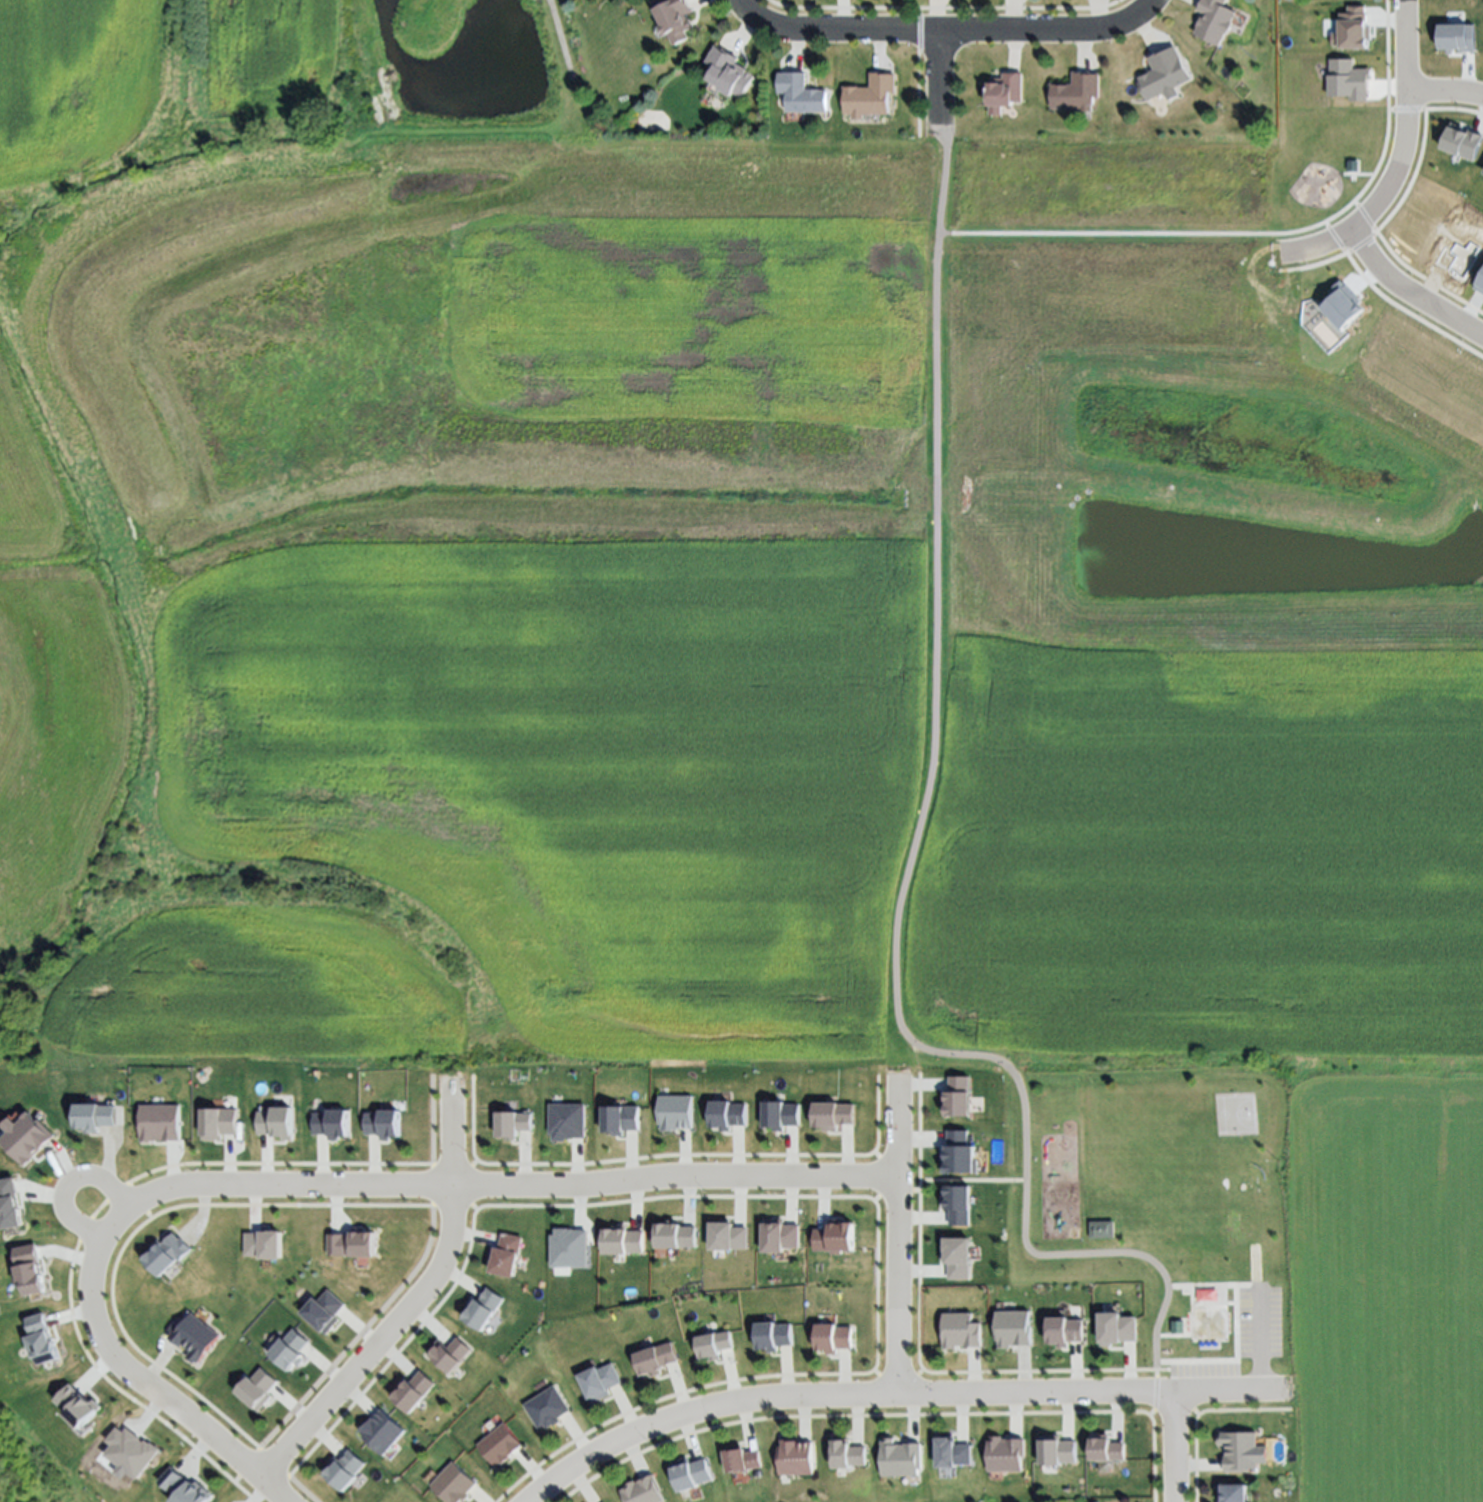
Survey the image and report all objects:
road: (739, 3)
building: (677, 18)
building: (1210, 21)
road: (945, 32)
road: (561, 40)
building: (730, 72)
park: (459, 75)
building: (1157, 77)
road: (935, 78)
building: (1004, 92)
building: (1075, 92)
building: (802, 93)
building: (871, 95)
road: (1440, 96)
building: (1362, 142)
road: (1392, 155)
park: (1320, 160)
road: (23, 223)
road: (1261, 235)
road: (1415, 304)
road: (916, 861)
building: (954, 1090)
building: (673, 1107)
building: (722, 1109)
building: (777, 1109)
building: (829, 1110)
park: (1234, 1111)
building: (90, 1112)
building: (617, 1113)
building: (273, 1116)
building: (155, 1117)
building: (213, 1117)
building: (510, 1117)
building: (565, 1117)
building: (328, 1118)
building: (380, 1118)
building: (22, 1131)
building: (954, 1148)
park: (1148, 1162)
road: (69, 1185)
road: (501, 1194)
building: (953, 1197)
building: (8, 1199)
park: (1163, 1207)
building: (671, 1230)
building: (724, 1232)
building: (775, 1232)
building: (831, 1232)
building: (257, 1236)
building: (620, 1236)
building: (349, 1239)
road: (897, 1242)
building: (567, 1244)
building: (160, 1247)
building: (501, 1249)
building: (954, 1252)
building: (26, 1263)
crop: (1392, 1288)
building: (1118, 1293)
building: (479, 1305)
building: (318, 1306)
road: (418, 1309)
building: (1010, 1323)
building: (1114, 1323)
building: (957, 1326)
building: (1062, 1326)
building: (769, 1330)
building: (189, 1331)
building: (828, 1332)
building: (711, 1338)
building: (283, 1344)
building: (446, 1350)
building: (653, 1352)
road: (144, 1378)
building: (598, 1381)
building: (250, 1385)
building: (408, 1387)
road: (891, 1393)
building: (544, 1404)
building: (376, 1427)
building: (1102, 1444)
building: (127, 1445)
building: (501, 1445)
building: (1054, 1447)
building: (1235, 1447)
building: (947, 1448)
road: (1171, 1448)
building: (844, 1449)
building: (1001, 1449)
building: (791, 1453)
building: (739, 1454)
building: (895, 1454)
building: (339, 1465)
building: (690, 1474)
building: (450, 1479)
building: (180, 1484)
building: (644, 1491)
building: (1234, 1492)

